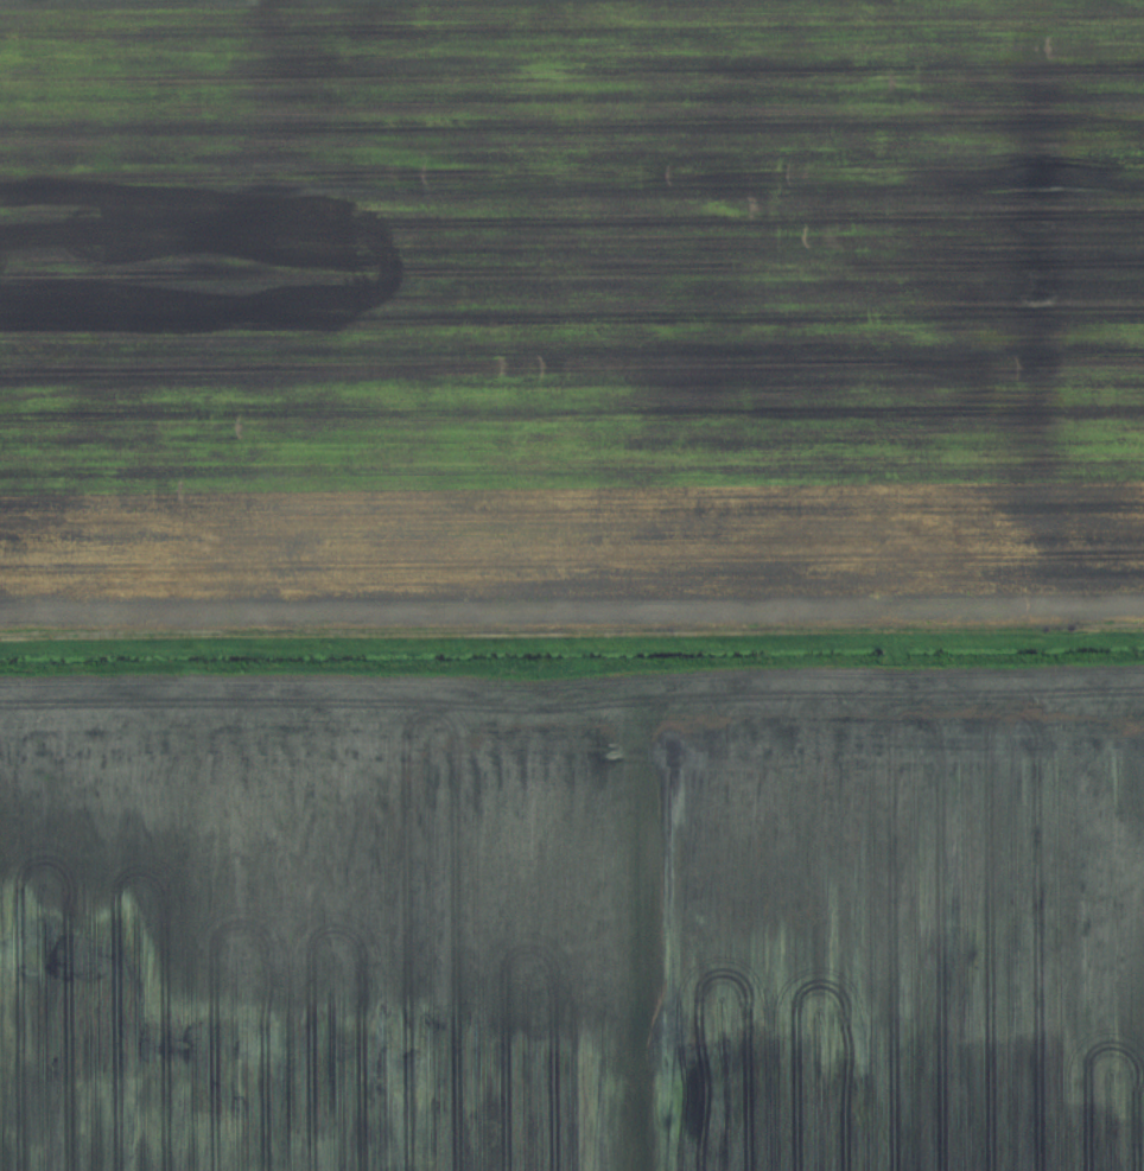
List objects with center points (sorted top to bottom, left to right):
road: (572, 631)

